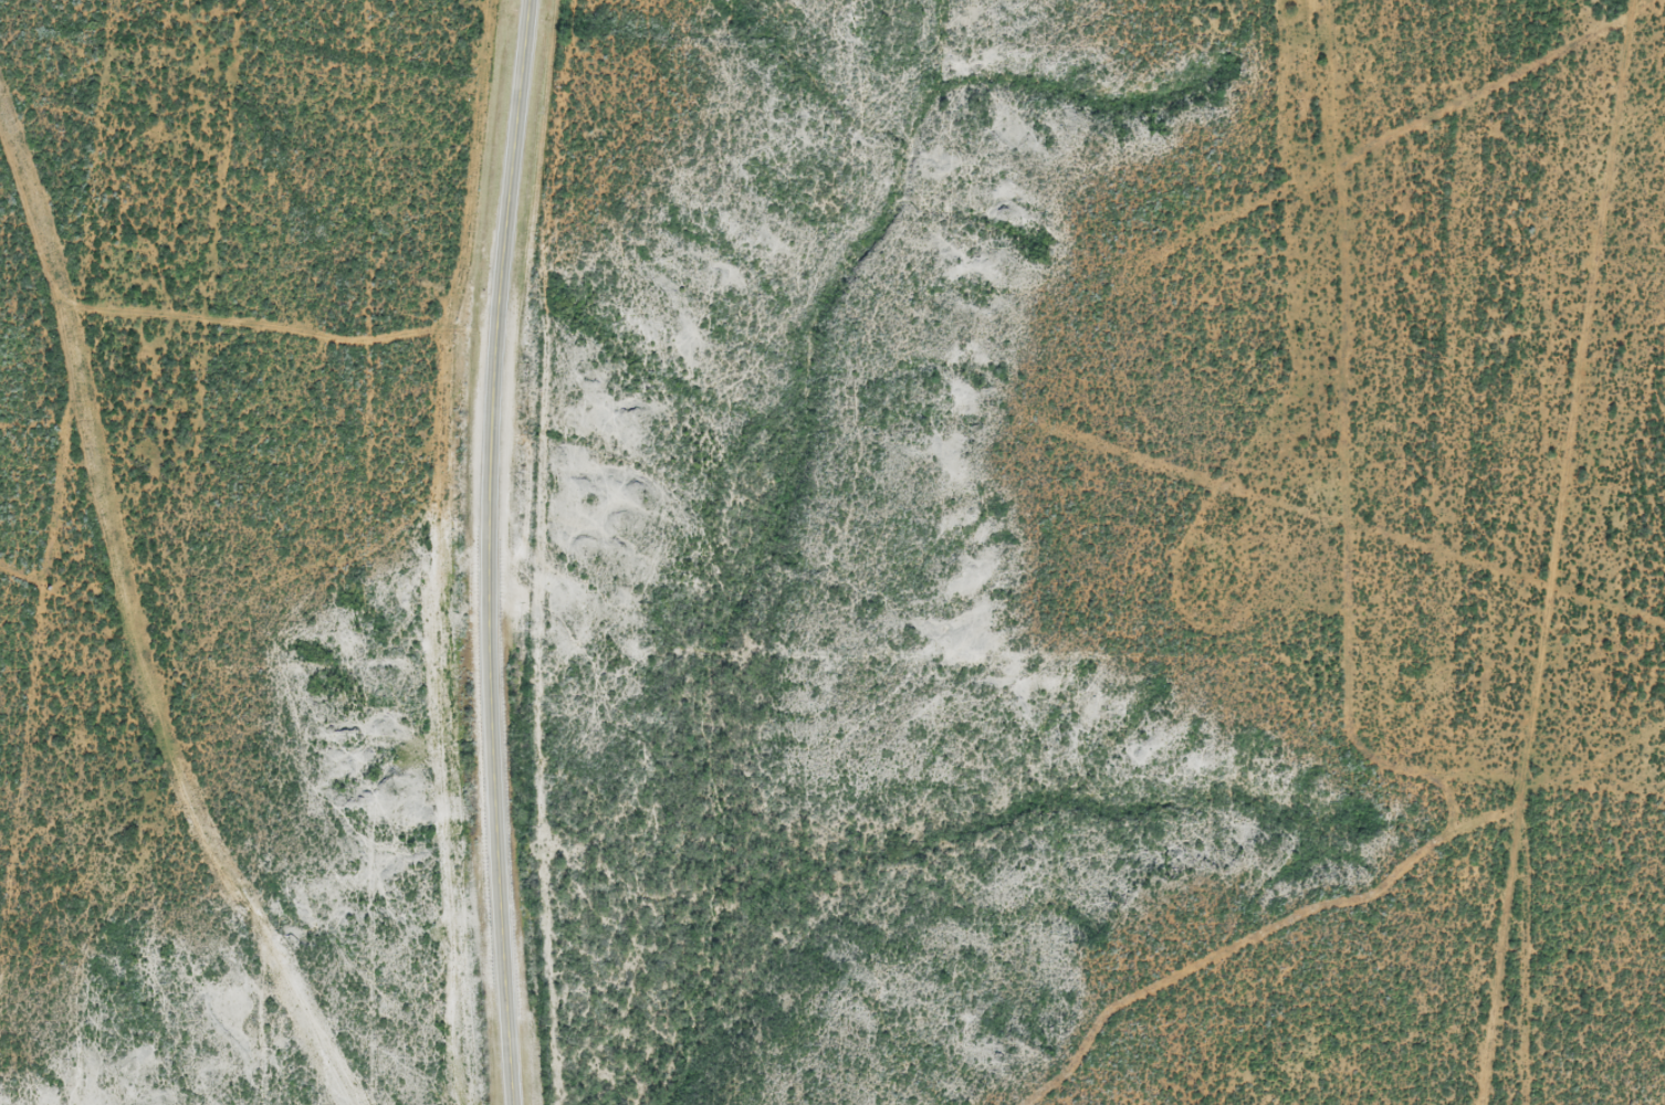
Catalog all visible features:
road: (489, 551)

